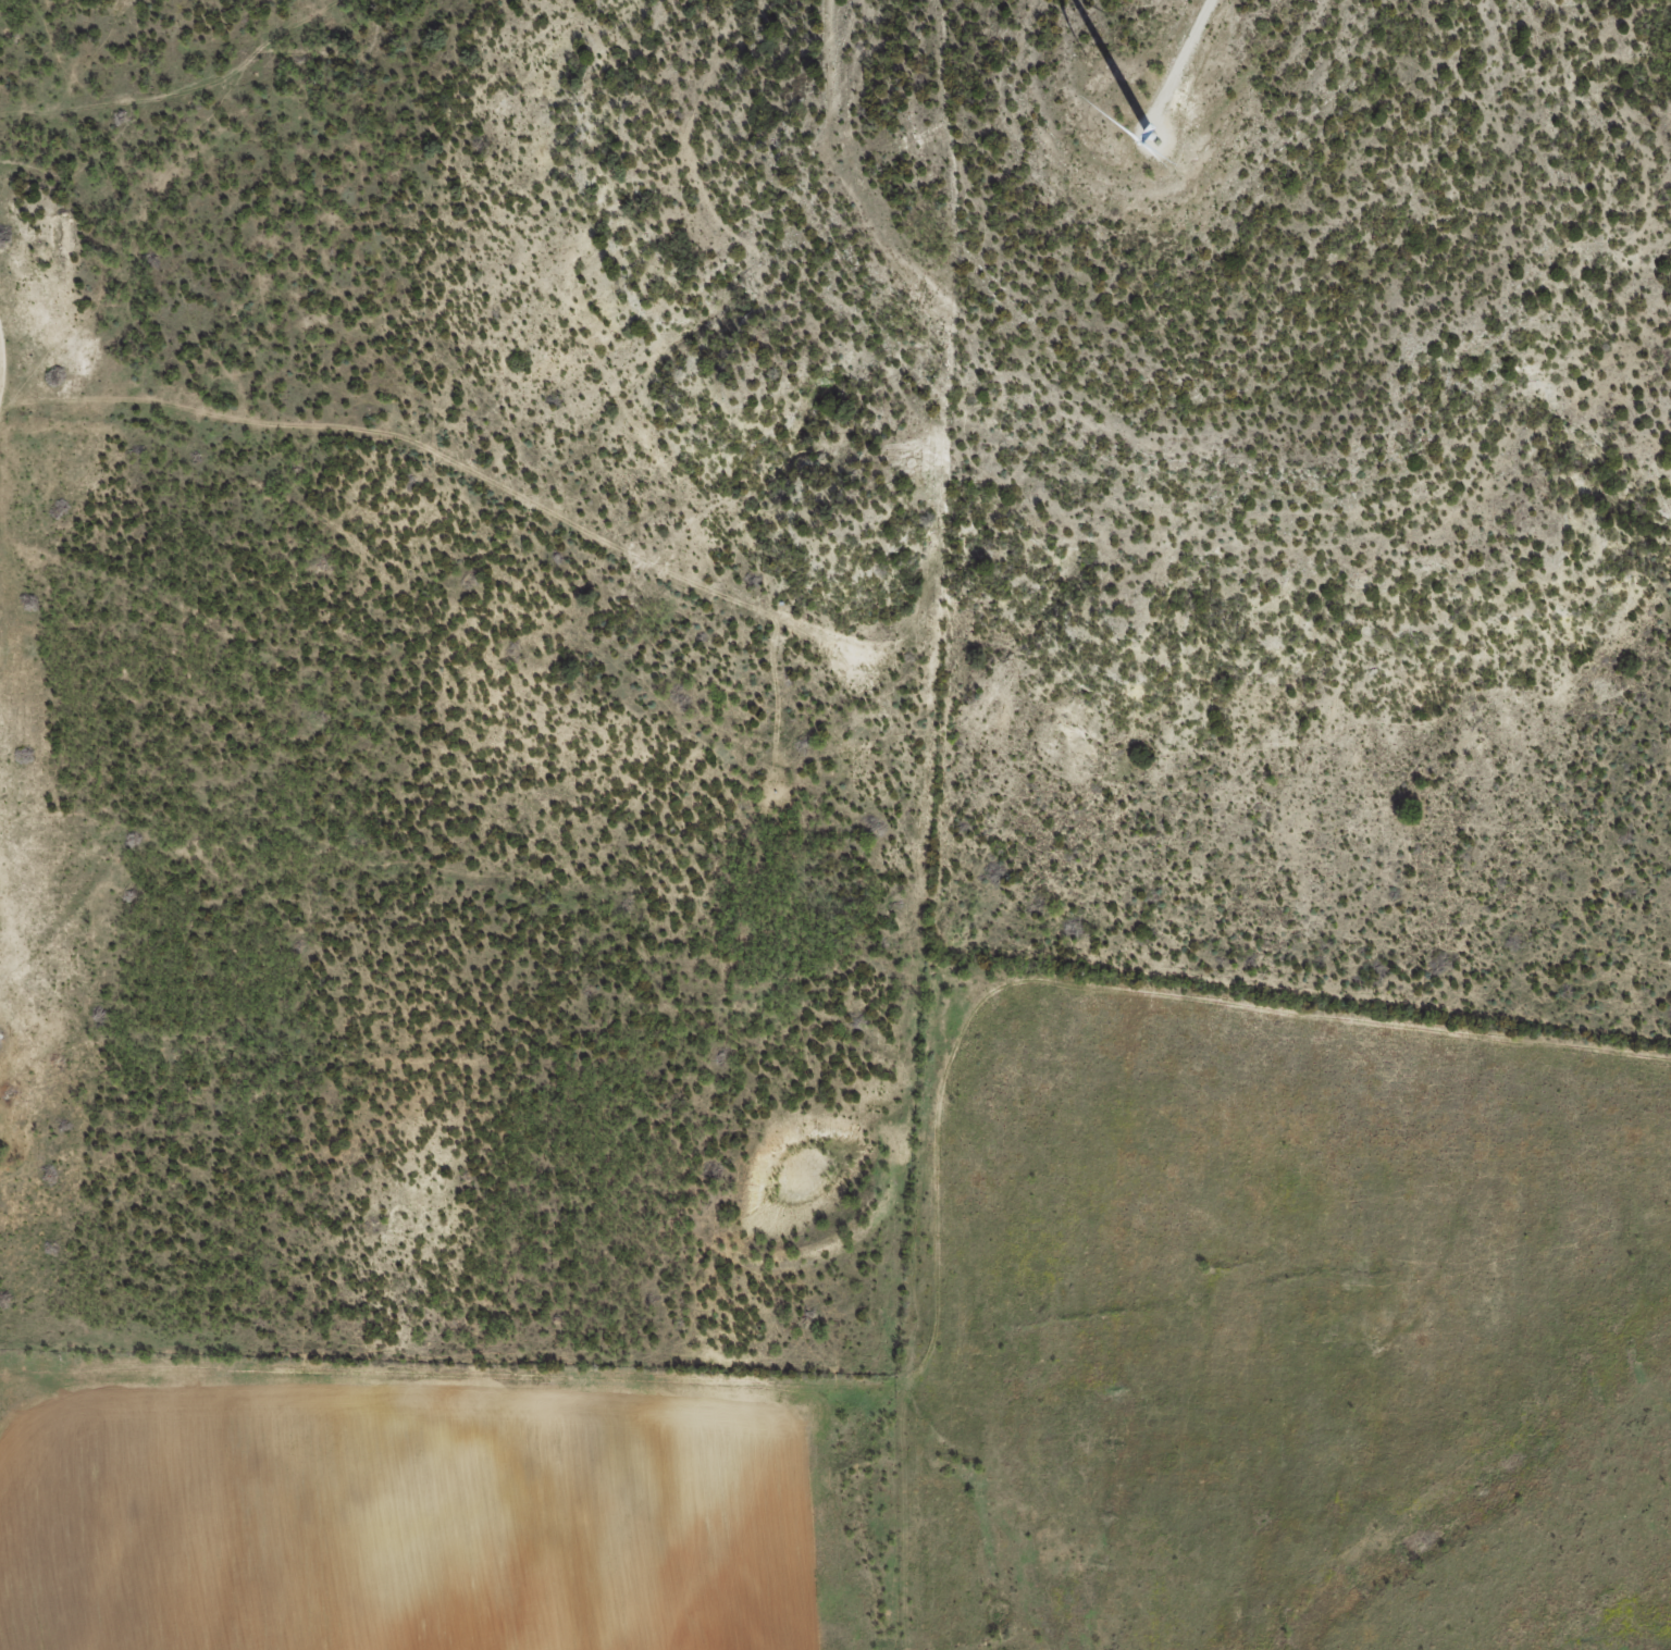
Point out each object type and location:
wind turbine: (1149, 138)
road: (1, 364)

